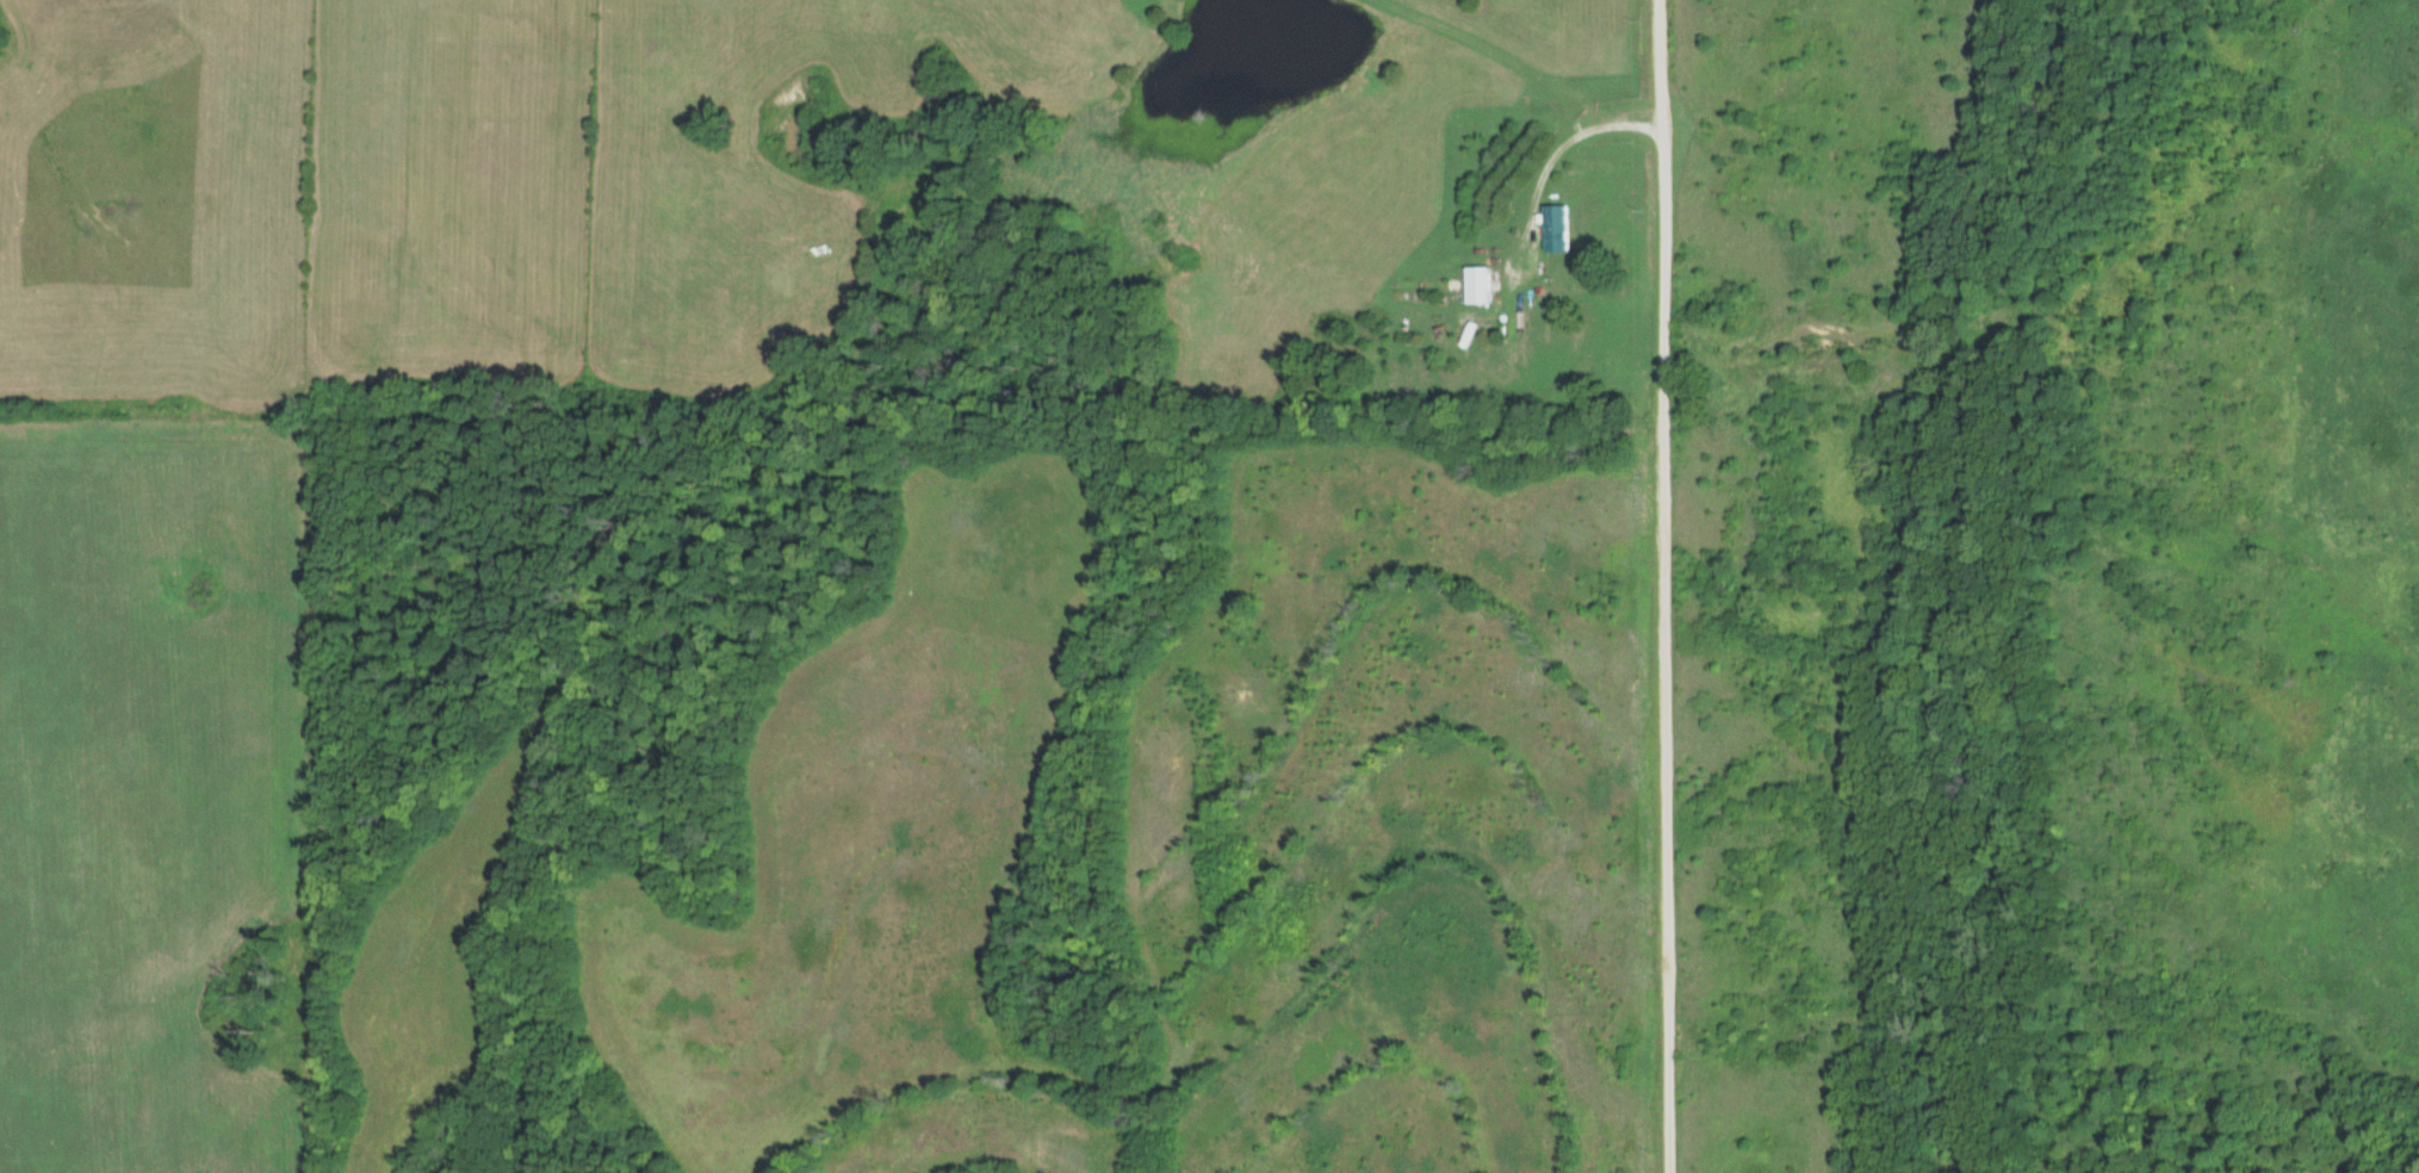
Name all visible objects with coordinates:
building: (1556, 228)
building: (1478, 283)
road: (1664, 586)

